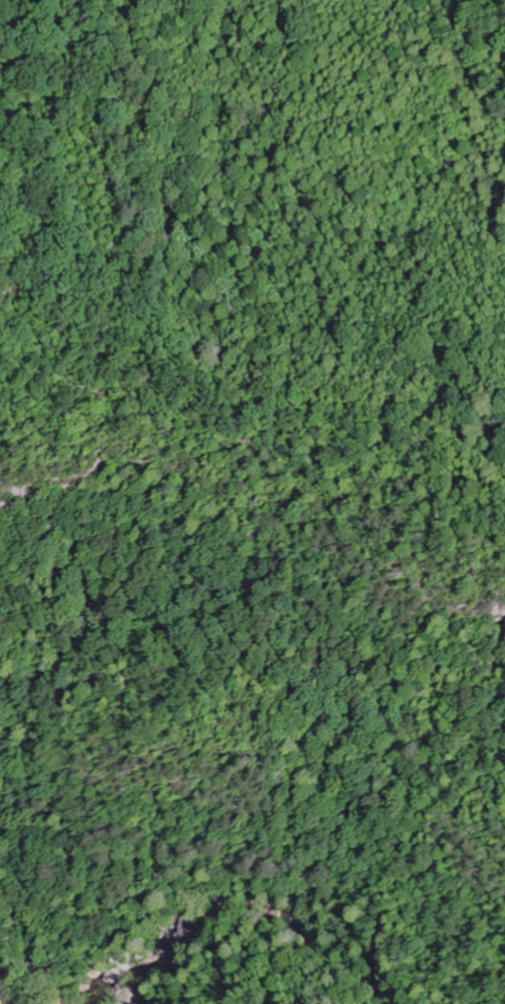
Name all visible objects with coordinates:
road: (142, 914)
road: (301, 953)

